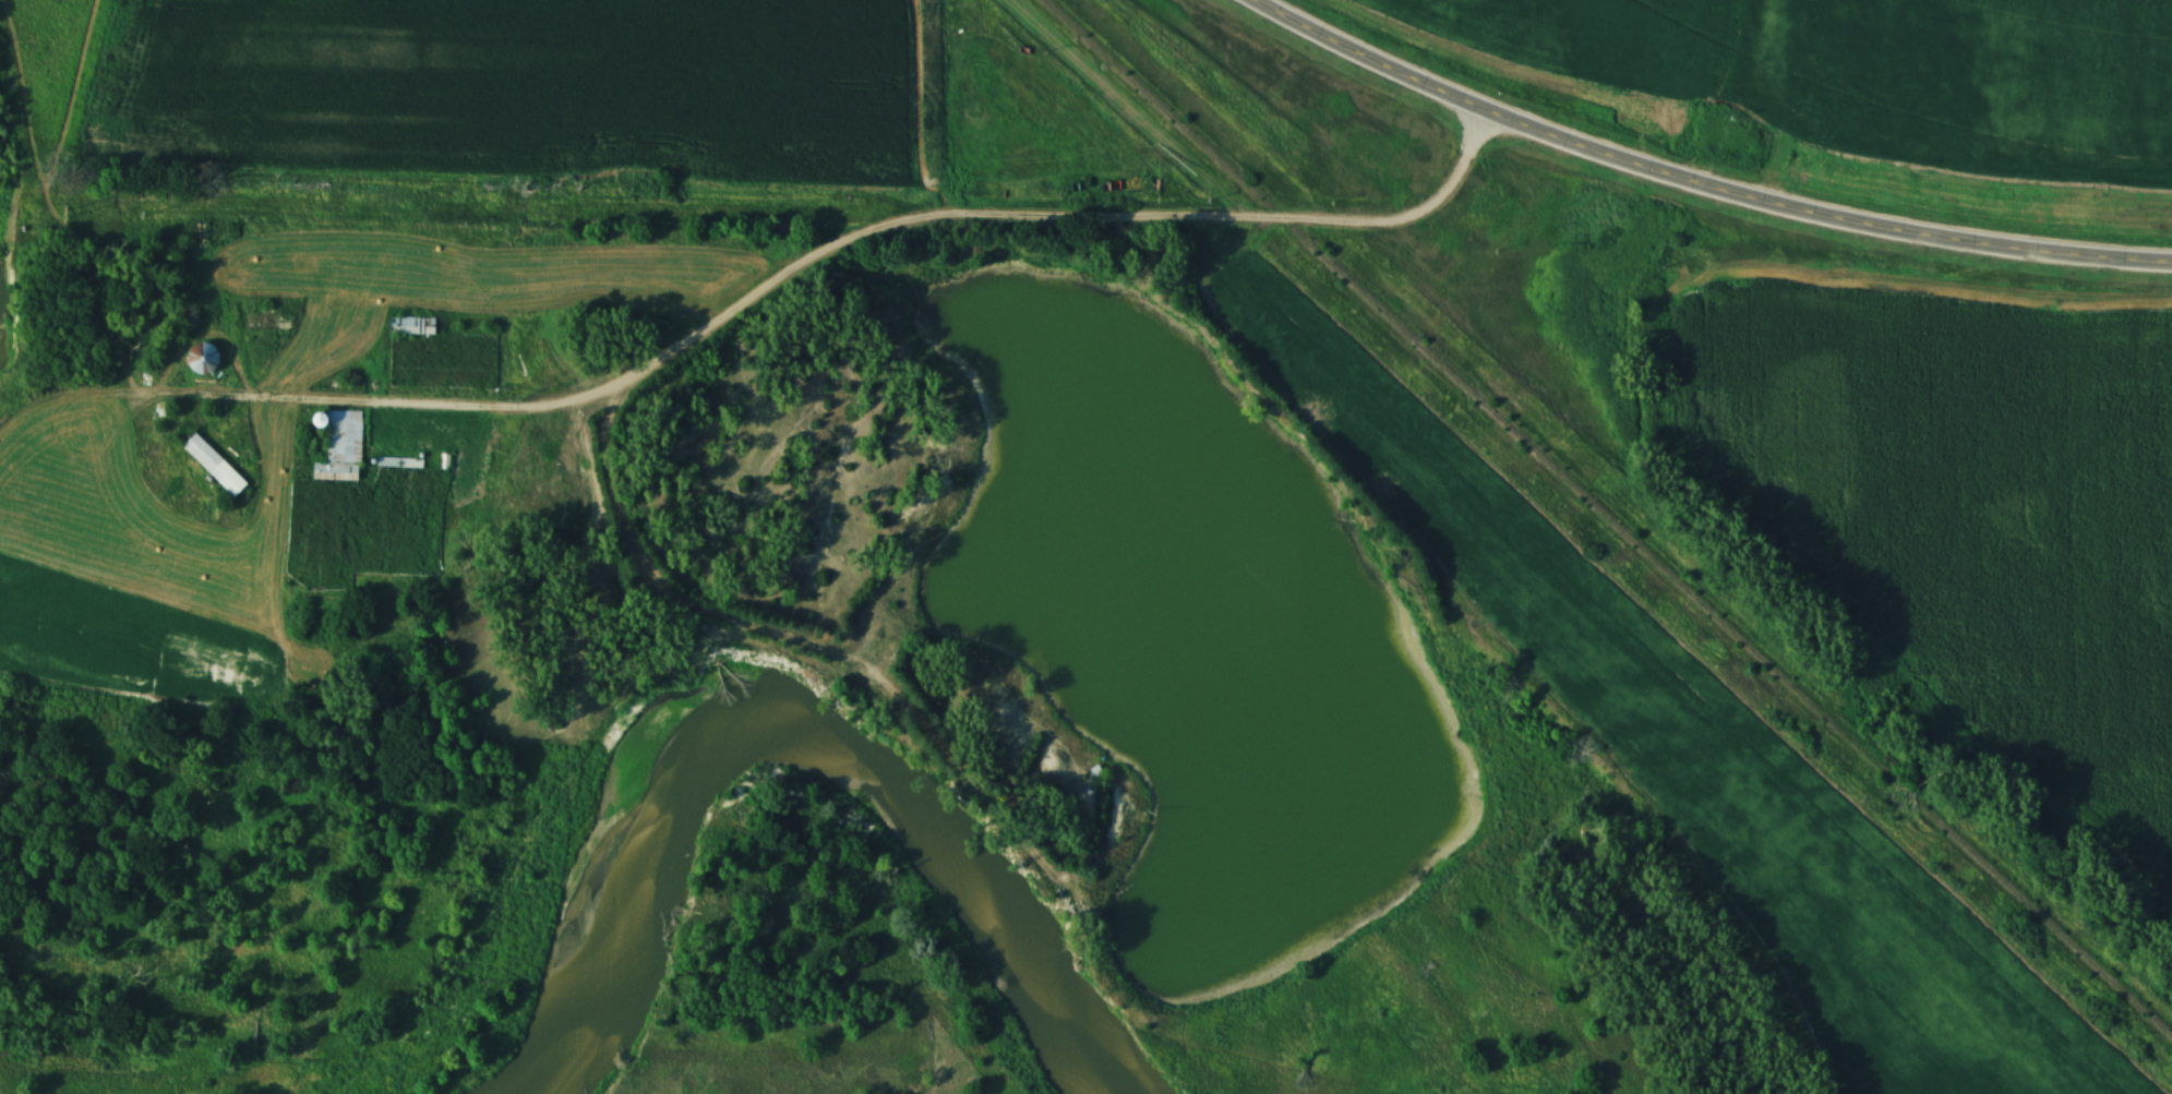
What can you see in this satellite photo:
railway: (1154, 110)
road: (1690, 189)
road: (1055, 221)
building: (411, 326)
building: (203, 360)
building: (340, 448)
building: (214, 466)
road: (677, 609)
railway: (1725, 632)
river: (787, 732)

